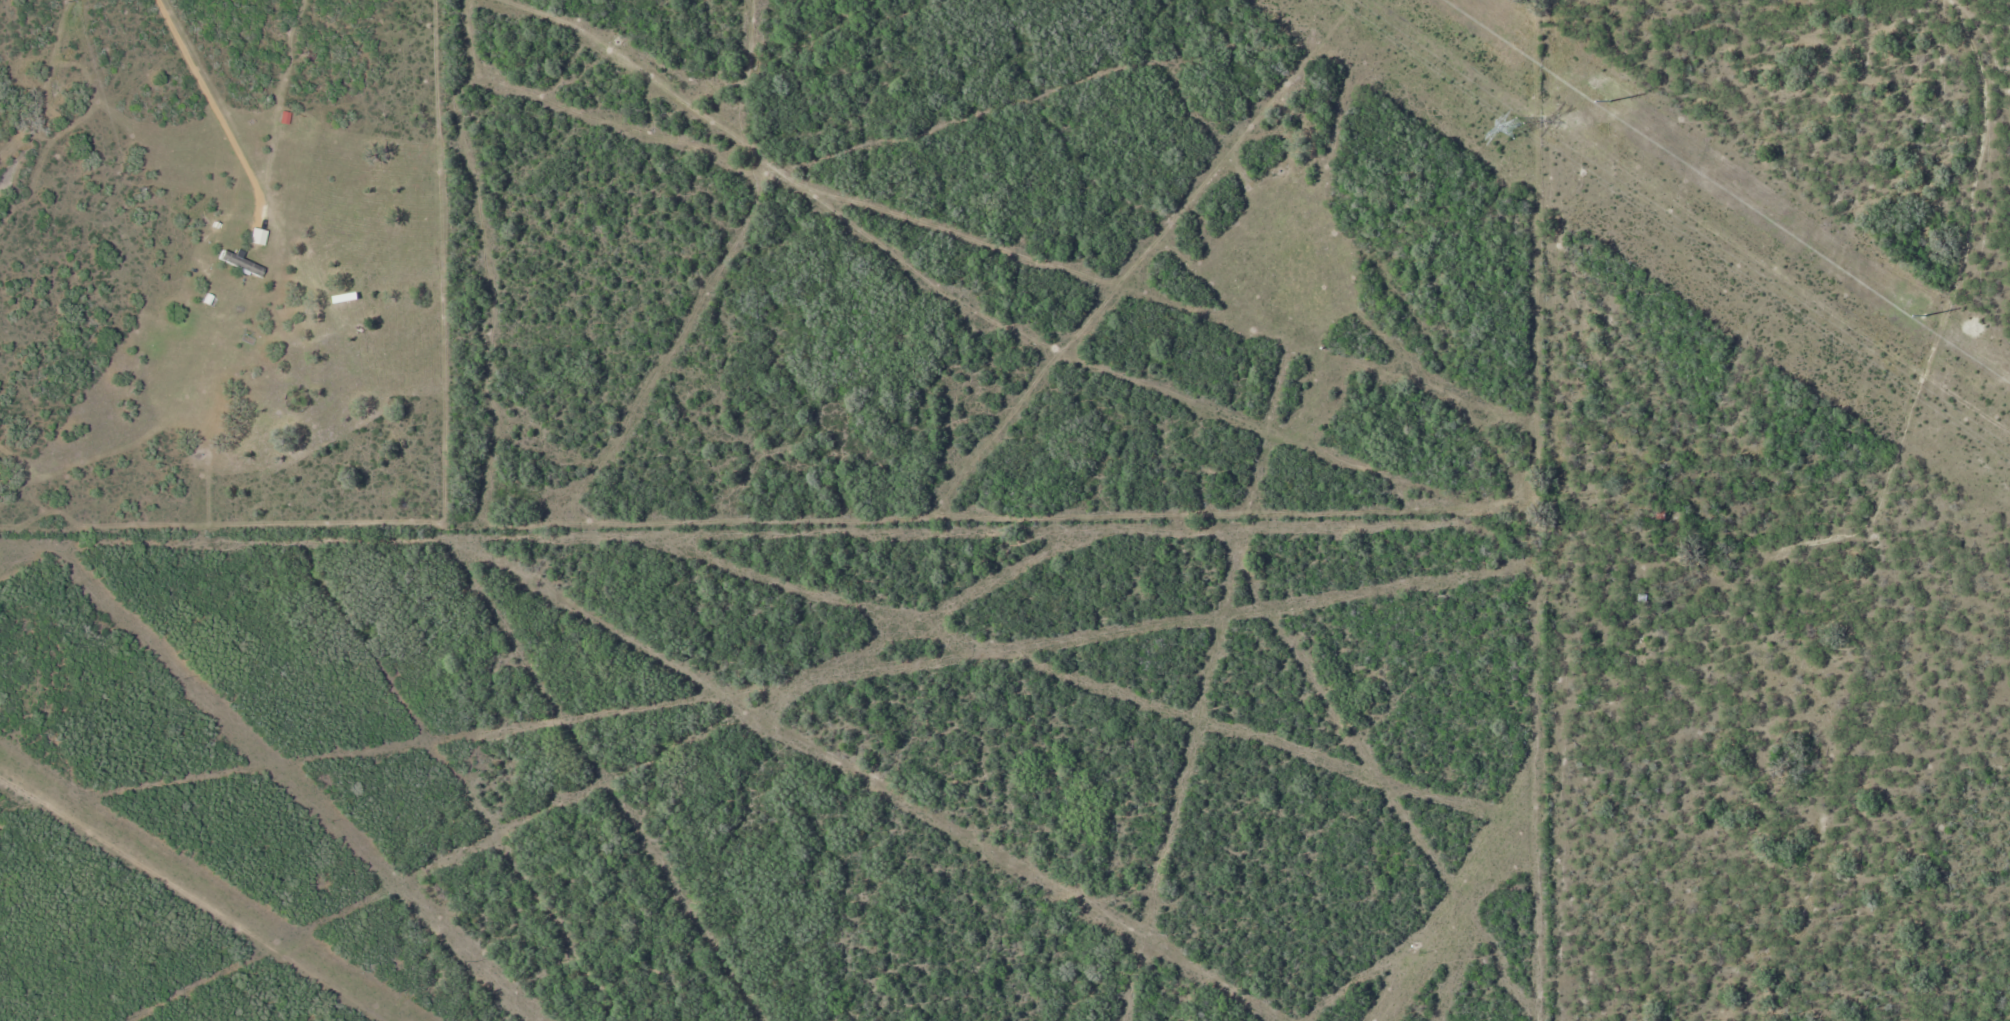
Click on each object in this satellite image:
power tower: (1516, 128)

